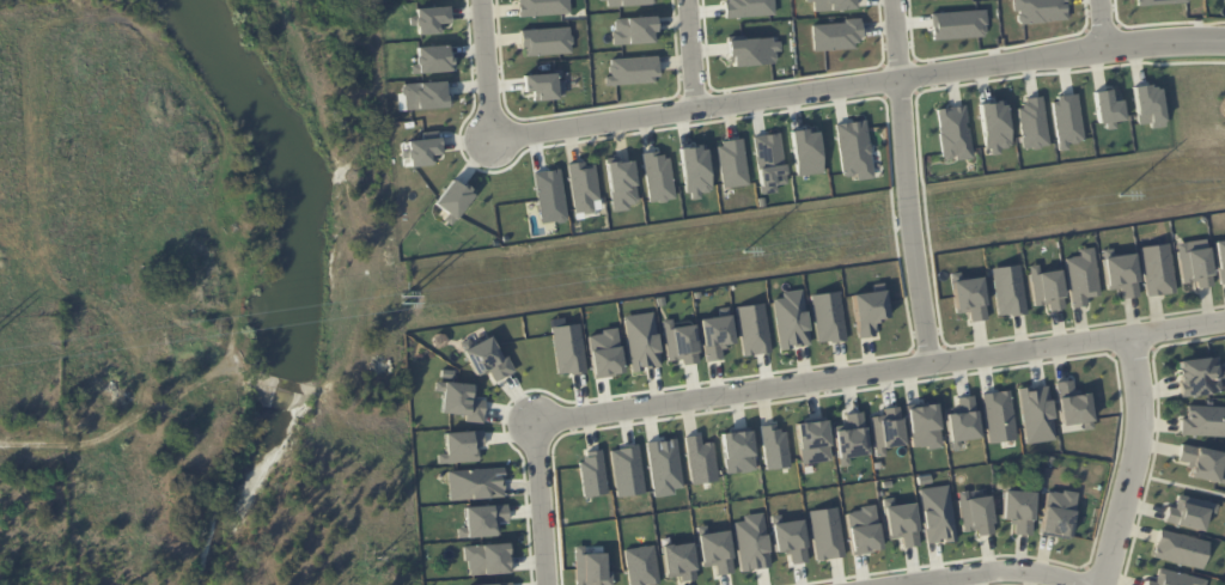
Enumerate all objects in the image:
building: (1160, 1)
building: (626, 2)
building: (1224, 2)
building: (833, 5)
building: (542, 7)
building: (749, 7)
building: (1038, 11)
building: (429, 19)
building: (957, 24)
road: (1102, 24)
building: (633, 30)
building: (835, 35)
road: (897, 39)
building: (546, 41)
building: (752, 50)
road: (689, 54)
road: (1061, 54)
building: (431, 59)
building: (632, 71)
building: (543, 86)
building: (422, 96)
building: (1147, 105)
building: (1107, 108)
road: (628, 118)
building: (1066, 120)
building: (1032, 123)
building: (994, 126)
building: (953, 132)
building: (422, 148)
building: (853, 150)
building: (805, 152)
building: (768, 162)
building: (731, 163)
building: (695, 170)
building: (657, 176)
building: (621, 183)
building: (583, 187)
power tower: (1120, 194)
building: (453, 200)
road: (910, 223)
power tower: (745, 251)
building: (1220, 260)
building: (1194, 262)
building: (1157, 269)
building: (1120, 274)
building: (1081, 276)
building: (1044, 287)
building: (1007, 290)
building: (969, 298)
power tower: (406, 301)
building: (869, 311)
building: (828, 317)
building: (791, 319)
road: (1178, 327)
building: (752, 329)
building: (715, 335)
building: (641, 341)
building: (679, 342)
building: (568, 348)
building: (604, 353)
building: (487, 359)
building: (1199, 376)
road: (834, 378)
building: (461, 400)
building: (1072, 403)
building: (1036, 414)
building: (998, 415)
building: (962, 421)
building: (1203, 421)
building: (924, 426)
building: (886, 429)
building: (849, 438)
building: (812, 440)
building: (461, 446)
road: (1134, 461)
building: (1200, 462)
building: (475, 483)
road: (543, 504)
building: (1018, 510)
building: (1188, 512)
building: (937, 513)
building: (975, 513)
building: (1058, 513)
building: (483, 519)
building: (901, 524)
building: (863, 530)
building: (825, 532)
building: (790, 540)
building: (751, 542)
building: (714, 549)
building: (1180, 549)
building: (487, 559)
building: (678, 561)
building: (640, 565)
building: (590, 568)
road: (995, 571)
building: (1174, 578)
building: (492, 584)

